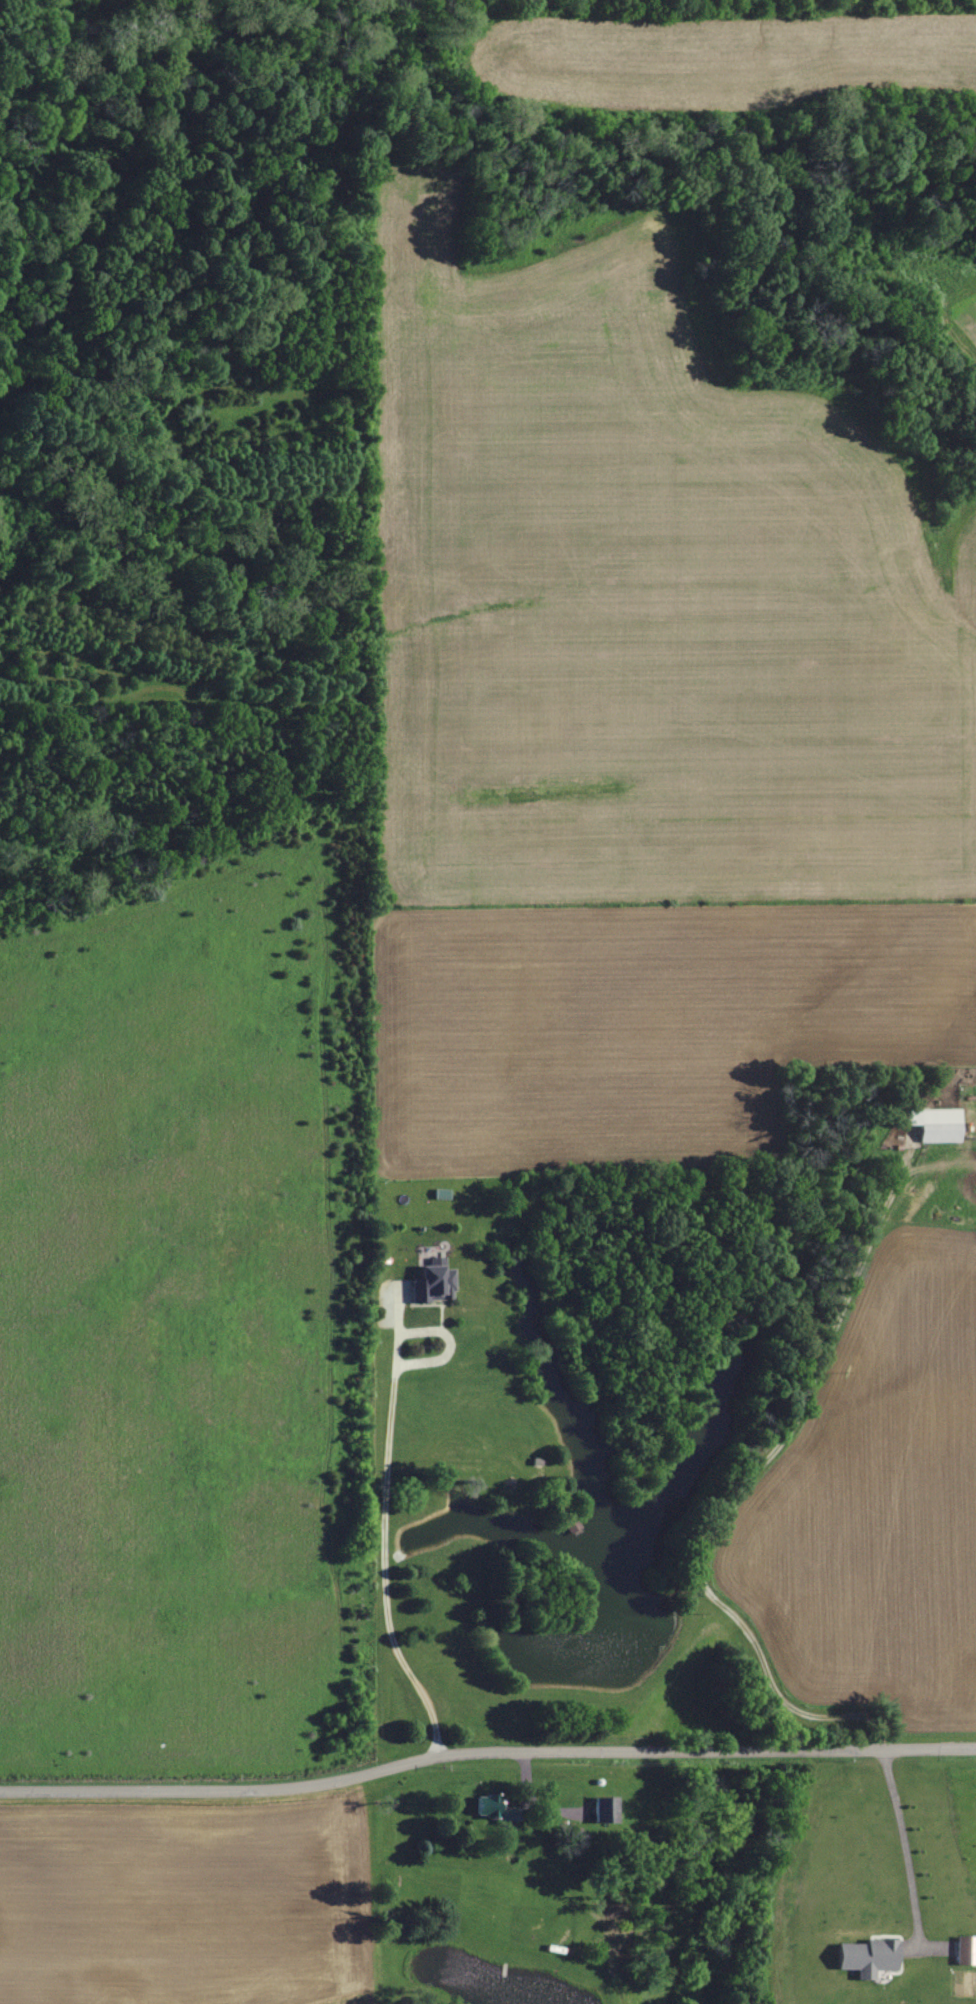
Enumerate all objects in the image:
building: (934, 1125)
building: (432, 1282)
road: (744, 1481)
road: (485, 1747)
building: (603, 1811)
building: (502, 1812)
road: (903, 1845)
building: (965, 1952)
building: (866, 1958)

